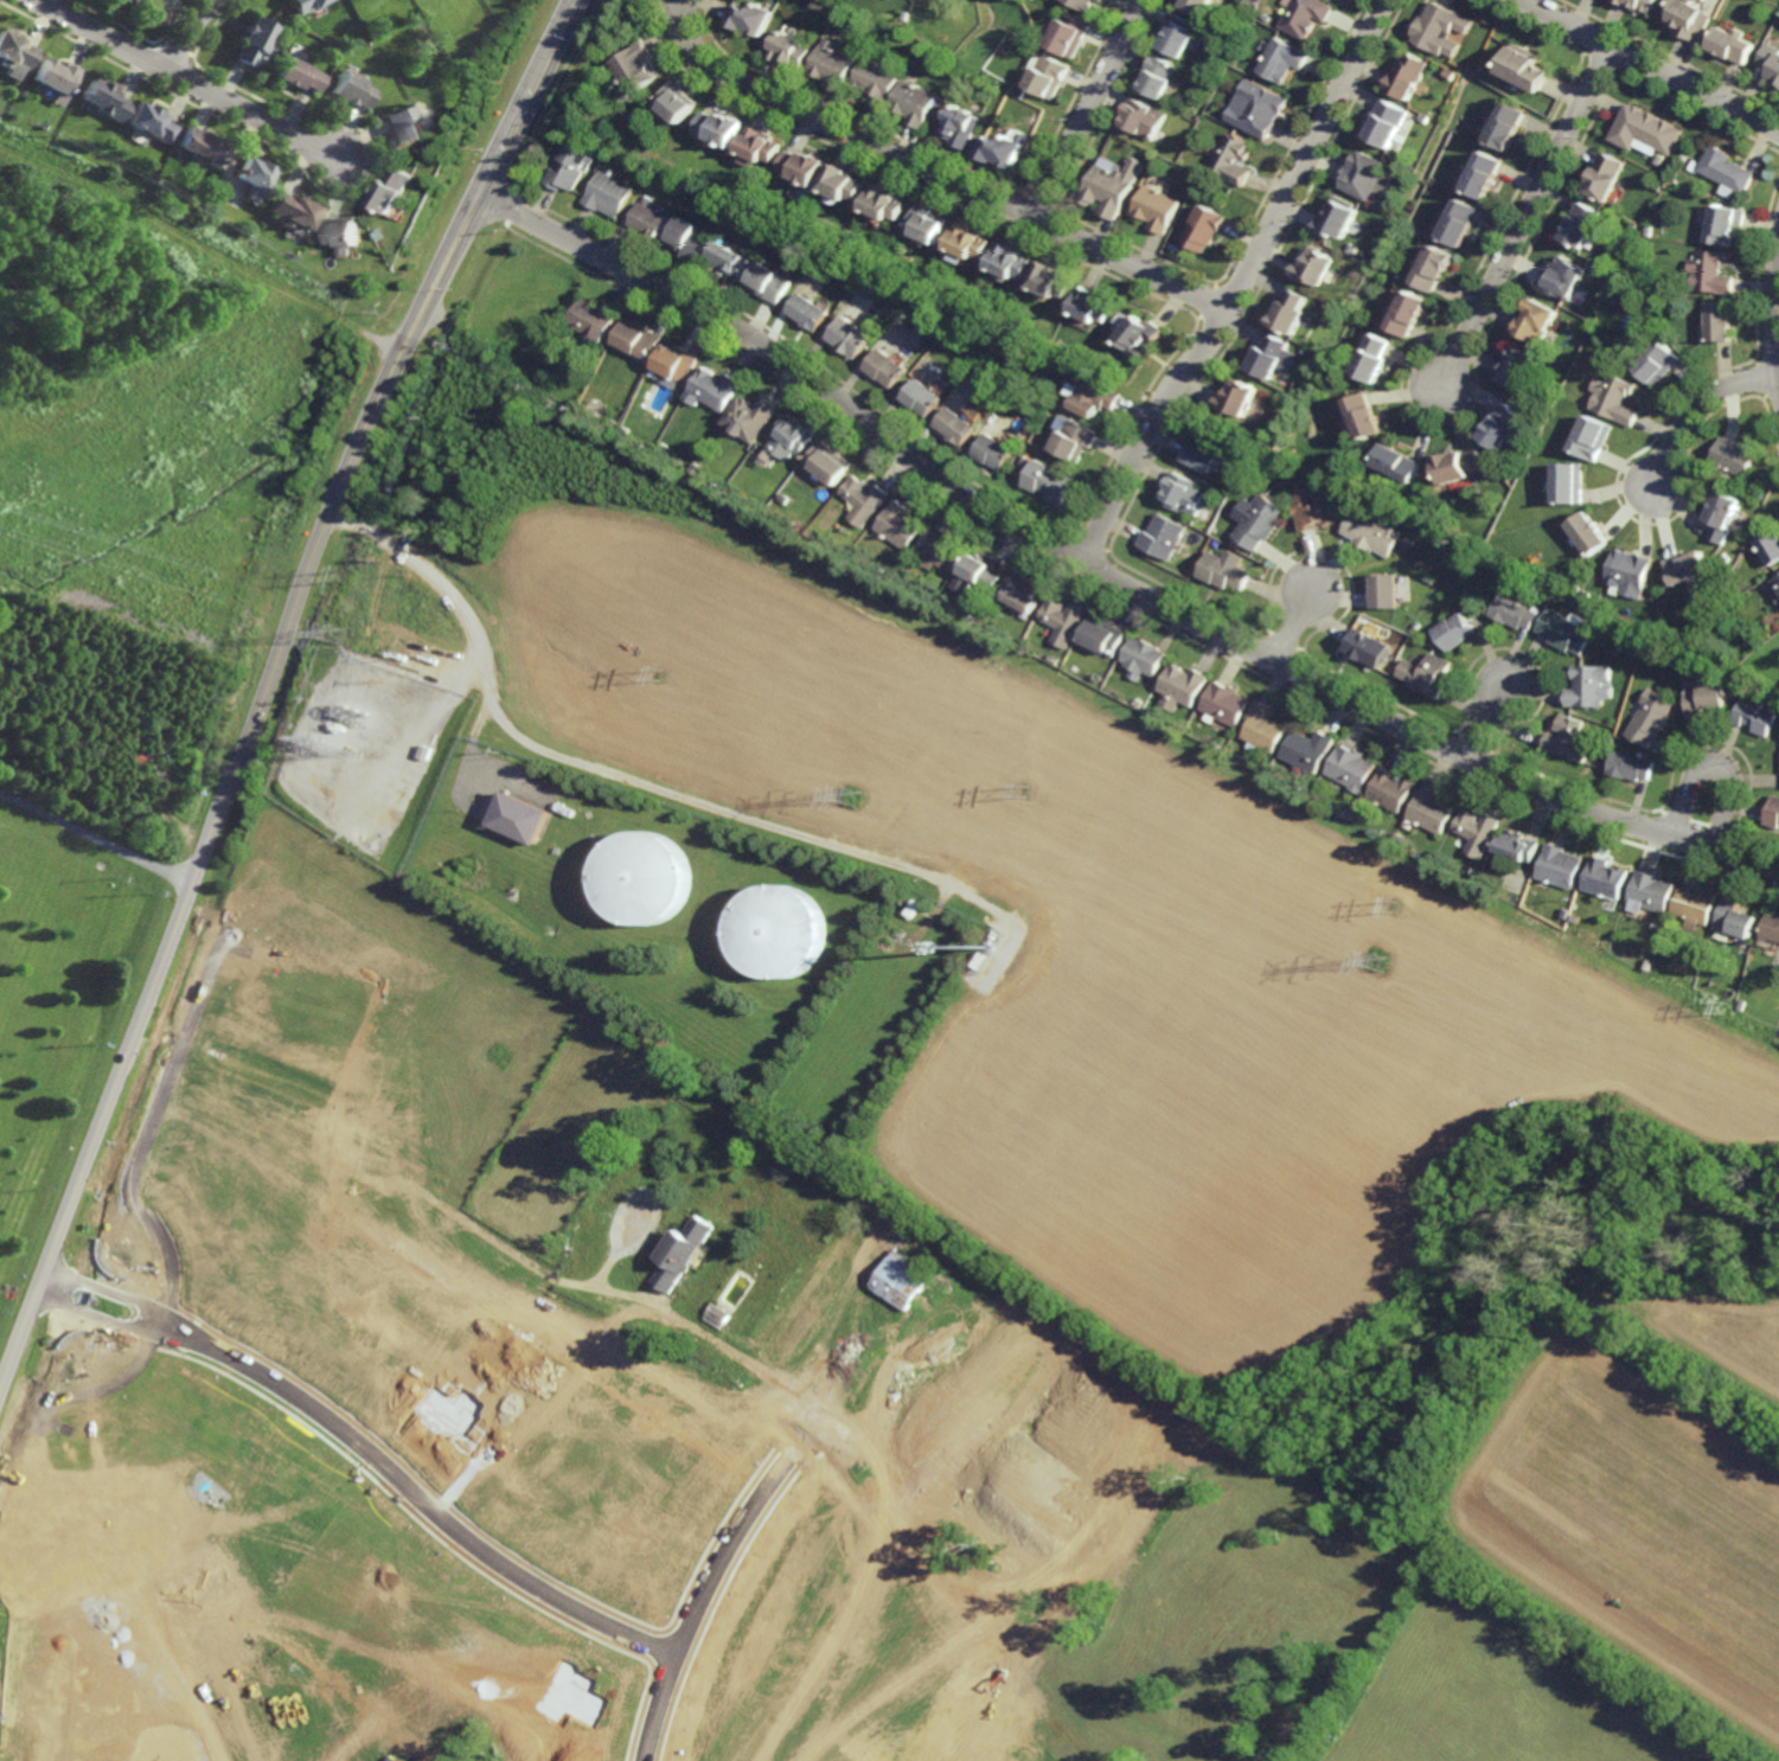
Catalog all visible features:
building: (1100, 0)
building: (1702, 0)
building: (137, 2)
building: (307, 5)
building: (1082, 5)
building: (1640, 5)
building: (1197, 7)
building: (907, 15)
building: (1266, 17)
building: (1305, 17)
building: (754, 19)
building: (1690, 19)
building: (1441, 30)
road: (188, 33)
building: (1070, 37)
building: (1178, 37)
building: (258, 41)
building: (1735, 45)
building: (791, 50)
building: (13, 55)
building: (1236, 55)
building: (267, 59)
building: (1772, 59)
building: (1282, 60)
building: (834, 65)
road: (1650, 66)
building: (638, 69)
building: (1525, 70)
building: (299, 75)
building: (1451, 75)
building: (55, 77)
building: (1049, 77)
building: (1157, 77)
building: (1408, 77)
road: (187, 79)
building: (1778, 82)
building: (881, 83)
building: (351, 90)
building: (105, 102)
building: (678, 102)
building: (917, 103)
road: (1089, 109)
building: (1258, 109)
building: (936, 117)
building: (1425, 117)
building: (1140, 120)
building: (1464, 120)
building: (153, 124)
building: (1384, 126)
building: (962, 127)
building: (405, 128)
building: (1506, 128)
building: (721, 129)
building: (625, 133)
building: (1649, 133)
building: (760, 146)
building: (204, 148)
building: (1006, 151)
building: (1234, 159)
building: (567, 168)
building: (805, 168)
road: (497, 172)
road: (935, 172)
building: (1730, 173)
building: (1363, 177)
building: (252, 179)
building: (1483, 179)
building: (1606, 181)
building: (844, 186)
building: (1111, 186)
building: (393, 192)
building: (608, 193)
building: (648, 199)
building: (887, 205)
building: (1377, 206)
building: (1156, 209)
building: (289, 212)
building: (649, 219)
road: (1528, 220)
building: (1336, 222)
building: (929, 224)
building: (1458, 225)
building: (1728, 226)
building: (1582, 229)
building: (1205, 230)
building: (343, 231)
building: (1650, 232)
building: (691, 239)
building: (971, 241)
building: (1350, 250)
building: (732, 258)
building: (1013, 258)
building: (1313, 268)
building: (1433, 268)
building: (1713, 273)
building: (1056, 277)
building: (1563, 278)
building: (774, 280)
road: (1241, 284)
building: (1645, 286)
building: (1645, 294)
building: (1094, 303)
building: (1290, 308)
building: (1409, 308)
building: (809, 313)
building: (1540, 316)
building: (595, 318)
building: (1721, 320)
building: (1701, 329)
building: (1143, 331)
building: (851, 334)
building: (640, 338)
building: (1271, 354)
building: (1372, 354)
building: (1659, 361)
building: (678, 364)
building: (889, 366)
building: (1518, 366)
building: (716, 388)
building: (924, 396)
building: (1100, 396)
building: (1237, 397)
building: (1617, 397)
building: (979, 399)
building: (597, 406)
road: (1695, 409)
building: (975, 412)
building: (1363, 414)
building: (753, 416)
building: (959, 424)
building: (614, 425)
building: (1504, 427)
building: (794, 436)
building: (1595, 436)
building: (1082, 437)
building: (1038, 438)
building: (1276, 446)
building: (998, 449)
building: (1204, 452)
building: (1267, 455)
building: (1734, 456)
building: (1026, 461)
building: (1399, 461)
building: (830, 462)
building: (1290, 463)
building: (1459, 463)
building: (699, 468)
building: (1052, 480)
building: (1572, 480)
building: (1231, 484)
building: (1185, 493)
building: (785, 498)
building: (863, 499)
building: (1313, 508)
building: (1722, 513)
building: (1259, 521)
building: (898, 524)
building: (1370, 532)
building: (1591, 533)
building: (1165, 536)
building: (1407, 544)
building: (1771, 546)
building: (939, 549)
building: (1726, 558)
building: (1453, 564)
building: (1688, 566)
building: (1224, 572)
building: (1630, 572)
power tower: (359, 574)
building: (975, 574)
road: (1109, 577)
building: (1426, 578)
building: (1774, 588)
building: (1382, 590)
building: (1022, 594)
building: (1587, 595)
building: (1511, 611)
building: (1063, 620)
road: (1292, 626)
power tower: (340, 632)
building: (1451, 632)
building: (1561, 632)
building: (1105, 636)
building: (1364, 647)
building: (1627, 655)
building: (1143, 658)
power tower: (663, 674)
building: (1422, 674)
building: (1184, 684)
building: (1583, 686)
building: (1655, 686)
building: (1700, 697)
building: (1224, 704)
building: (1753, 716)
building: (1646, 718)
road: (1483, 726)
building: (1261, 728)
building: (1563, 738)
building: (1305, 750)
power substation: (378, 754)
building: (1593, 758)
road: (1714, 764)
building: (1626, 766)
building: (1346, 768)
road: (614, 775)
power tower: (1028, 788)
building: (1387, 789)
power tower: (851, 796)
building: (1427, 809)
building: (1771, 812)
building: (520, 818)
building: (1473, 831)
road: (95, 837)
building: (1514, 846)
road: (198, 860)
building: (1556, 865)
building: (647, 875)
storage tank: (647, 875)
building: (1602, 878)
building: (1647, 892)
power tower: (1390, 902)
building: (1691, 907)
building: (1734, 918)
building: (1771, 927)
building: (781, 933)
storage tank: (781, 933)
power tower: (1376, 962)
building: (1645, 962)
building: (1740, 1003)
power tower: (1726, 1010)
road: (137, 1211)
building: (681, 1253)
building: (900, 1280)
road: (107, 1291)
road: (97, 1314)
building: (716, 1315)
building: (807, 1416)
road: (415, 1493)
road: (697, 1602)

